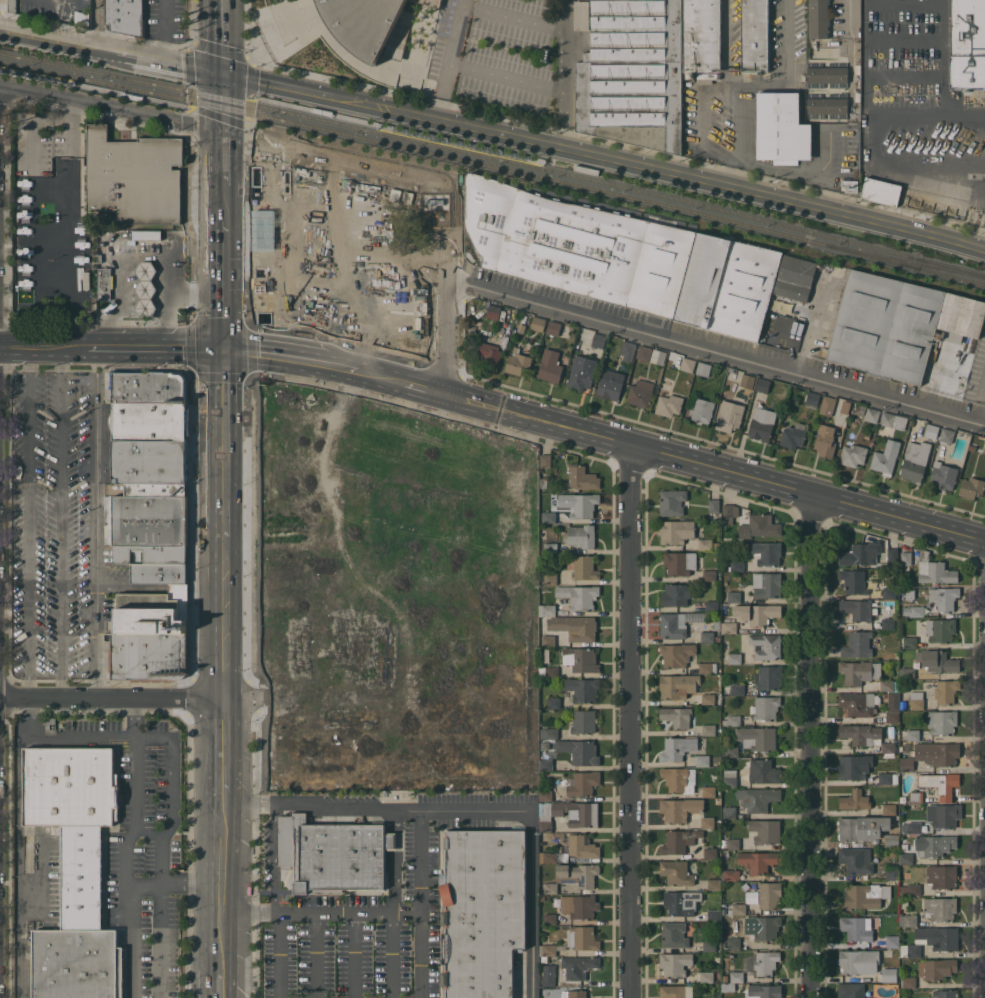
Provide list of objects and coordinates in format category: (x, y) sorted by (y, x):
building: (431, 2)
road: (905, 2)
building: (12, 5)
building: (853, 12)
building: (580, 15)
building: (125, 17)
building: (81, 18)
building: (818, 18)
road: (99, 21)
building: (365, 25)
road: (163, 28)
road: (221, 34)
building: (754, 35)
building: (701, 36)
road: (906, 38)
building: (576, 41)
building: (967, 44)
road: (110, 45)
parking lot: (502, 54)
road: (944, 57)
road: (447, 58)
traffic signals: (221, 68)
building: (827, 72)
road: (566, 73)
road: (787, 73)
building: (633, 74)
road: (506, 77)
building: (707, 77)
railway: (72, 82)
road: (221, 100)
building: (828, 105)
road: (699, 108)
road: (110, 109)
building: (781, 128)
road: (739, 129)
traffic signals: (222, 133)
road: (222, 154)
road: (603, 156)
railway: (493, 158)
road: (868, 158)
road: (738, 163)
railway: (494, 166)
railway: (545, 166)
road: (983, 167)
building: (134, 176)
building: (849, 185)
building: (881, 191)
road: (71, 202)
road: (223, 207)
building: (165, 226)
building: (160, 229)
road: (32, 230)
building: (147, 235)
building: (576, 246)
building: (100, 258)
railway: (904, 260)
building: (419, 267)
road: (167, 271)
building: (795, 277)
building: (104, 283)
road: (123, 286)
building: (728, 286)
building: (146, 288)
road: (223, 295)
building: (493, 311)
road: (812, 322)
building: (538, 323)
building: (897, 324)
building: (553, 327)
road: (445, 333)
building: (407, 338)
building: (599, 340)
building: (537, 345)
road: (38, 346)
road: (150, 348)
road: (715, 348)
building: (628, 350)
traffic signals: (223, 351)
building: (644, 352)
building: (489, 353)
building: (658, 356)
road: (298, 359)
building: (518, 362)
building: (688, 364)
building: (551, 366)
building: (703, 368)
building: (582, 372)
building: (747, 380)
road: (409, 383)
building: (611, 383)
building: (763, 385)
building: (148, 387)
building: (641, 393)
building: (812, 399)
building: (669, 404)
building: (828, 405)
road: (981, 406)
building: (860, 408)
building: (702, 410)
building: (872, 414)
building: (729, 416)
building: (150, 421)
building: (762, 423)
building: (891, 423)
road: (223, 427)
building: (931, 431)
building: (794, 435)
building: (947, 435)
building: (825, 442)
building: (984, 449)
building: (853, 455)
building: (886, 457)
building: (545, 460)
building: (915, 460)
building: (151, 466)
road: (714, 467)
building: (943, 475)
building: (582, 477)
building: (544, 483)
building: (971, 487)
building: (672, 501)
building: (584, 505)
building: (714, 505)
building: (729, 513)
building: (549, 516)
building: (147, 519)
road: (29, 522)
road: (62, 522)
road: (97, 523)
building: (760, 526)
building: (676, 530)
building: (580, 535)
building: (705, 543)
building: (551, 547)
building: (766, 552)
building: (152, 553)
building: (861, 553)
building: (892, 554)
building: (905, 558)
building: (679, 562)
building: (737, 565)
building: (584, 567)
building: (934, 570)
building: (158, 573)
building: (709, 574)
building: (550, 578)
building: (855, 581)
building: (767, 584)
building: (889, 592)
building: (675, 594)
building: (579, 595)
building: (734, 596)
building: (944, 597)
road: (223, 601)
building: (712, 606)
building: (856, 608)
building: (548, 609)
building: (913, 610)
building: (152, 611)
building: (757, 612)
building: (888, 623)
building: (717, 624)
building: (673, 625)
building: (575, 626)
building: (729, 627)
building: (940, 629)
building: (113, 632)
building: (709, 636)
building: (548, 640)
building: (910, 641)
building: (858, 644)
building: (766, 645)
building: (676, 654)
building: (543, 655)
building: (148, 656)
building: (734, 658)
building: (581, 659)
building: (937, 660)
building: (707, 667)
building: (549, 671)
building: (859, 671)
building: (906, 672)
building: (768, 676)
building: (889, 684)
building: (677, 685)
building: (581, 688)
building: (738, 689)
building: (946, 690)
building: (708, 698)
road: (132, 699)
building: (917, 700)
building: (553, 702)
building: (859, 703)
building: (765, 707)
building: (677, 716)
building: (892, 716)
road: (29, 717)
road: (136, 717)
building: (50, 720)
building: (732, 720)
building: (584, 721)
building: (942, 721)
road: (632, 722)
building: (709, 729)
building: (549, 733)
building: (860, 733)
building: (913, 734)
road: (100, 735)
building: (757, 737)
road: (812, 745)
building: (888, 746)
building: (677, 748)
building: (579, 751)
building: (731, 751)
road: (223, 753)
building: (937, 753)
building: (702, 760)
building: (545, 763)
building: (907, 763)
building: (854, 766)
building: (763, 771)
building: (730, 778)
building: (888, 778)
building: (679, 779)
building: (549, 782)
building: (583, 782)
building: (941, 783)
building: (708, 791)
building: (546, 795)
building: (916, 797)
building: (759, 798)
building: (855, 799)
road: (249, 805)
building: (680, 808)
building: (889, 808)
road: (401, 809)
building: (729, 812)
building: (569, 813)
building: (942, 815)
building: (74, 820)
building: (707, 822)
building: (862, 827)
building: (914, 827)
building: (765, 830)
building: (892, 839)
building: (679, 840)
building: (731, 843)
building: (934, 844)
road: (222, 845)
building: (580, 845)
building: (559, 848)
building: (710, 853)
building: (332, 854)
building: (548, 856)
building: (906, 858)
road: (274, 859)
building: (856, 859)
building: (725, 860)
building: (759, 860)
road: (128, 864)
building: (891, 871)
building: (677, 872)
building: (578, 874)
building: (731, 874)
building: (941, 876)
road: (192, 884)
building: (714, 884)
road: (145, 885)
building: (550, 887)
building: (910, 889)
building: (770, 894)
building: (864, 896)
road: (222, 898)
building: (681, 902)
road: (393, 903)
road: (420, 903)
building: (904, 904)
building: (578, 905)
building: (738, 908)
building: (940, 908)
building: (483, 910)
road: (249, 913)
road: (348, 913)
building: (713, 914)
road: (531, 915)
building: (550, 918)
building: (907, 919)
building: (767, 927)
building: (856, 927)
building: (674, 934)
building: (938, 937)
building: (574, 941)
building: (892, 941)
road: (222, 942)
building: (734, 942)
building: (709, 945)
building: (910, 950)
road: (281, 955)
road: (316, 955)
road: (354, 956)
building: (544, 959)
building: (859, 961)
building: (761, 962)
building: (77, 963)
building: (675, 963)
building: (577, 967)
building: (936, 968)
building: (889, 974)
building: (548, 975)
building: (706, 976)
building: (737, 976)
building: (908, 982)
road: (222, 984)
building: (728, 987)
building: (854, 990)
building: (676, 991)
building: (764, 991)
building: (944, 993)
building: (574, 994)
building: (895, 997)

